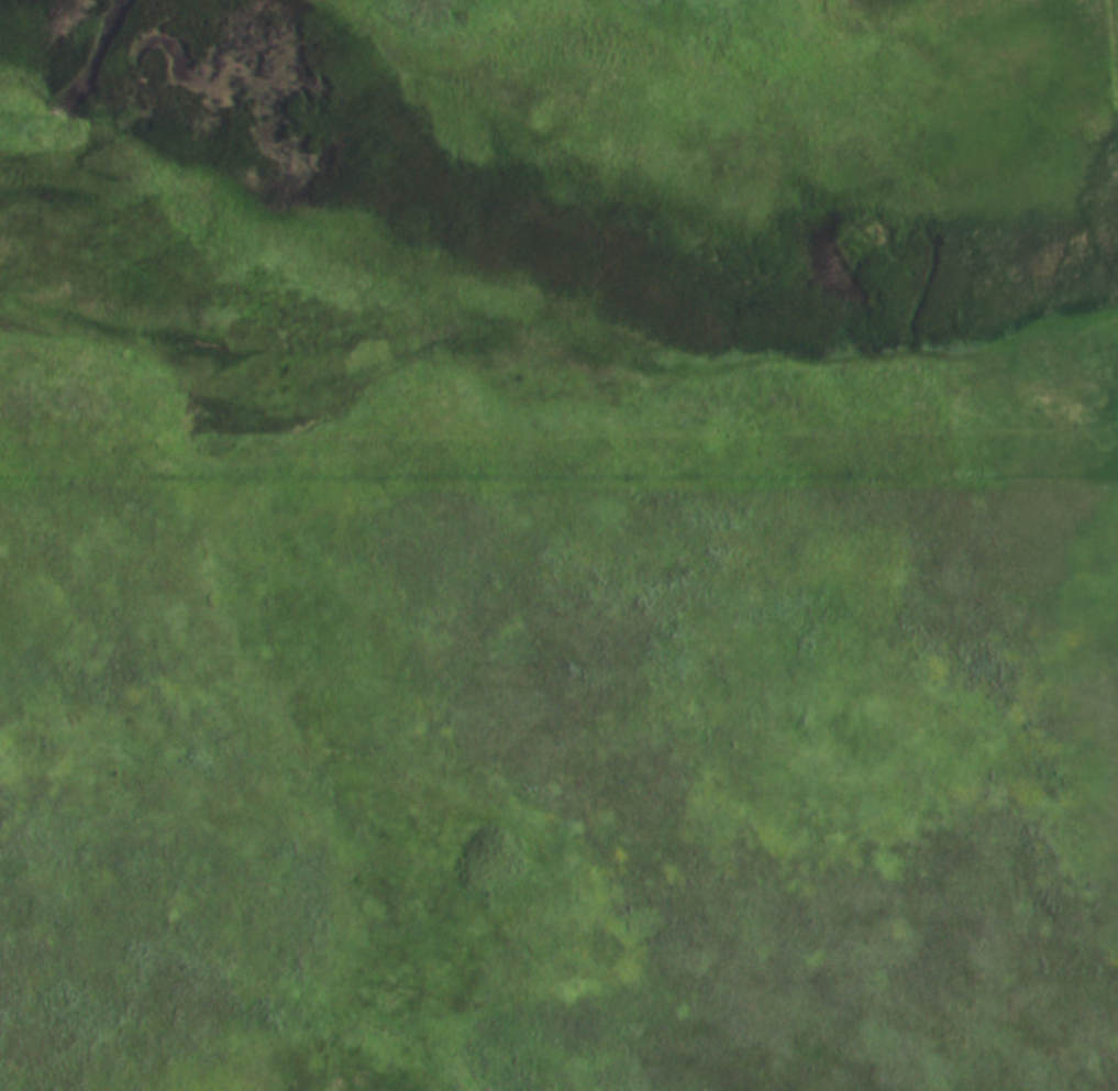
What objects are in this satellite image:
road: (558, 449)

